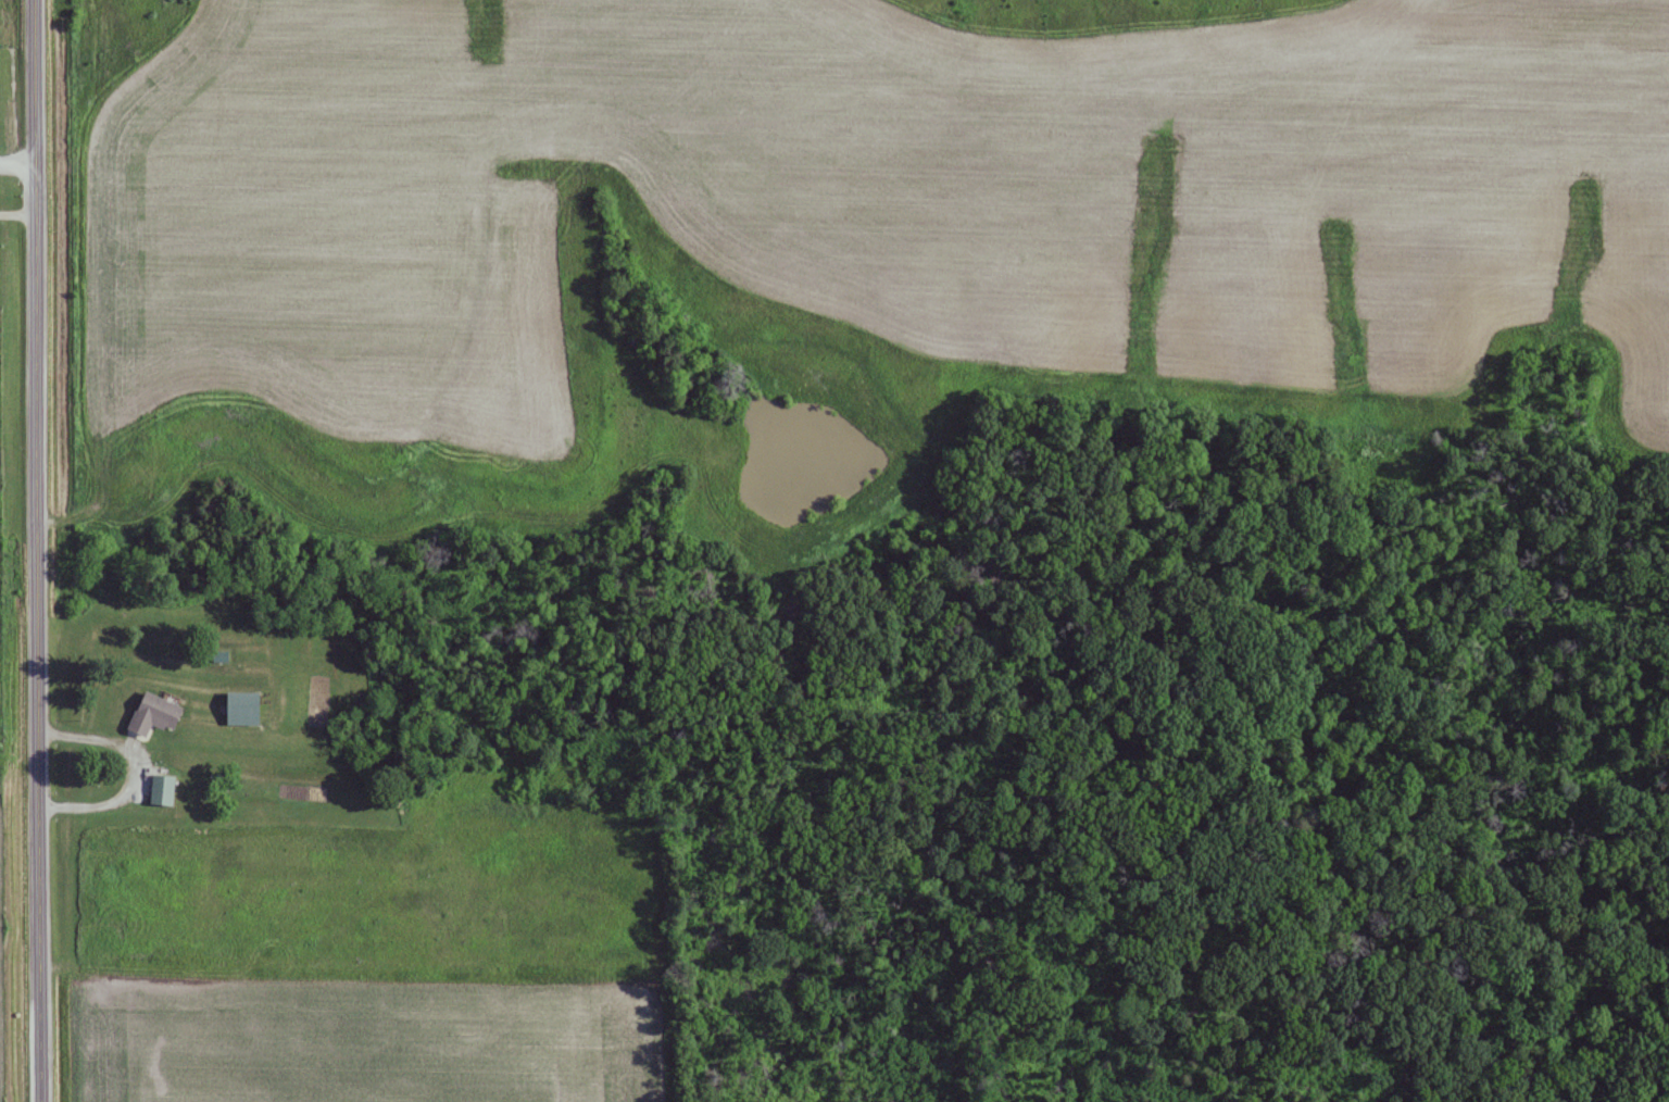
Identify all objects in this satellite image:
road: (36, 551)
building: (240, 709)
building: (152, 714)
building: (161, 790)

